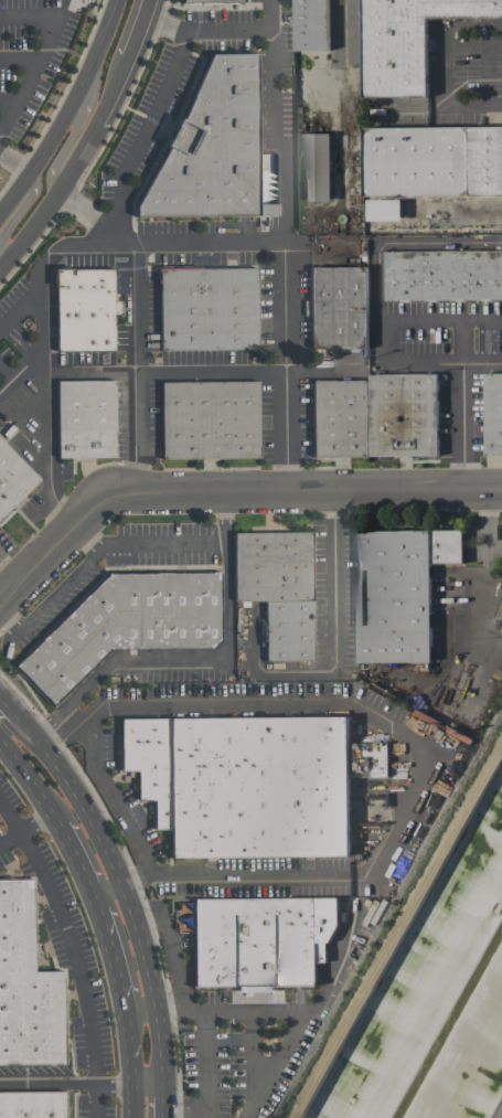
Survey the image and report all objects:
building: (202, 0)
building: (311, 24)
road: (137, 29)
road: (203, 32)
building: (405, 42)
road: (44, 46)
road: (20, 57)
road: (342, 57)
road: (442, 63)
road: (487, 63)
road: (113, 90)
road: (8, 102)
road: (64, 106)
road: (142, 129)
road: (74, 132)
building: (211, 148)
road: (14, 159)
building: (432, 161)
building: (317, 167)
road: (51, 195)
road: (285, 199)
building: (384, 209)
road: (84, 211)
road: (18, 212)
road: (400, 245)
building: (442, 275)
building: (338, 307)
building: (207, 308)
building: (84, 309)
road: (439, 322)
road: (41, 355)
road: (428, 360)
road: (20, 366)
road: (131, 366)
road: (282, 368)
road: (86, 371)
road: (207, 371)
road: (460, 406)
building: (493, 414)
building: (403, 415)
building: (85, 418)
building: (341, 418)
building: (209, 419)
building: (12, 479)
road: (228, 492)
road: (489, 523)
road: (85, 536)
road: (114, 546)
road: (9, 571)
road: (333, 578)
building: (278, 588)
building: (398, 590)
building: (125, 625)
road: (172, 658)
road: (328, 701)
road: (8, 705)
building: (371, 758)
road: (104, 780)
road: (31, 781)
building: (243, 782)
road: (28, 826)
road: (2, 842)
road: (76, 860)
road: (226, 872)
road: (121, 885)
building: (183, 915)
road: (393, 920)
building: (260, 940)
road: (74, 954)
road: (113, 956)
road: (339, 958)
building: (26, 987)
road: (222, 1007)
river: (450, 1025)
road: (252, 1054)
road: (275, 1062)
road: (132, 1066)
road: (38, 1082)
road: (209, 1082)
road: (119, 1084)
road: (164, 1100)
building: (34, 1105)
road: (209, 1116)

